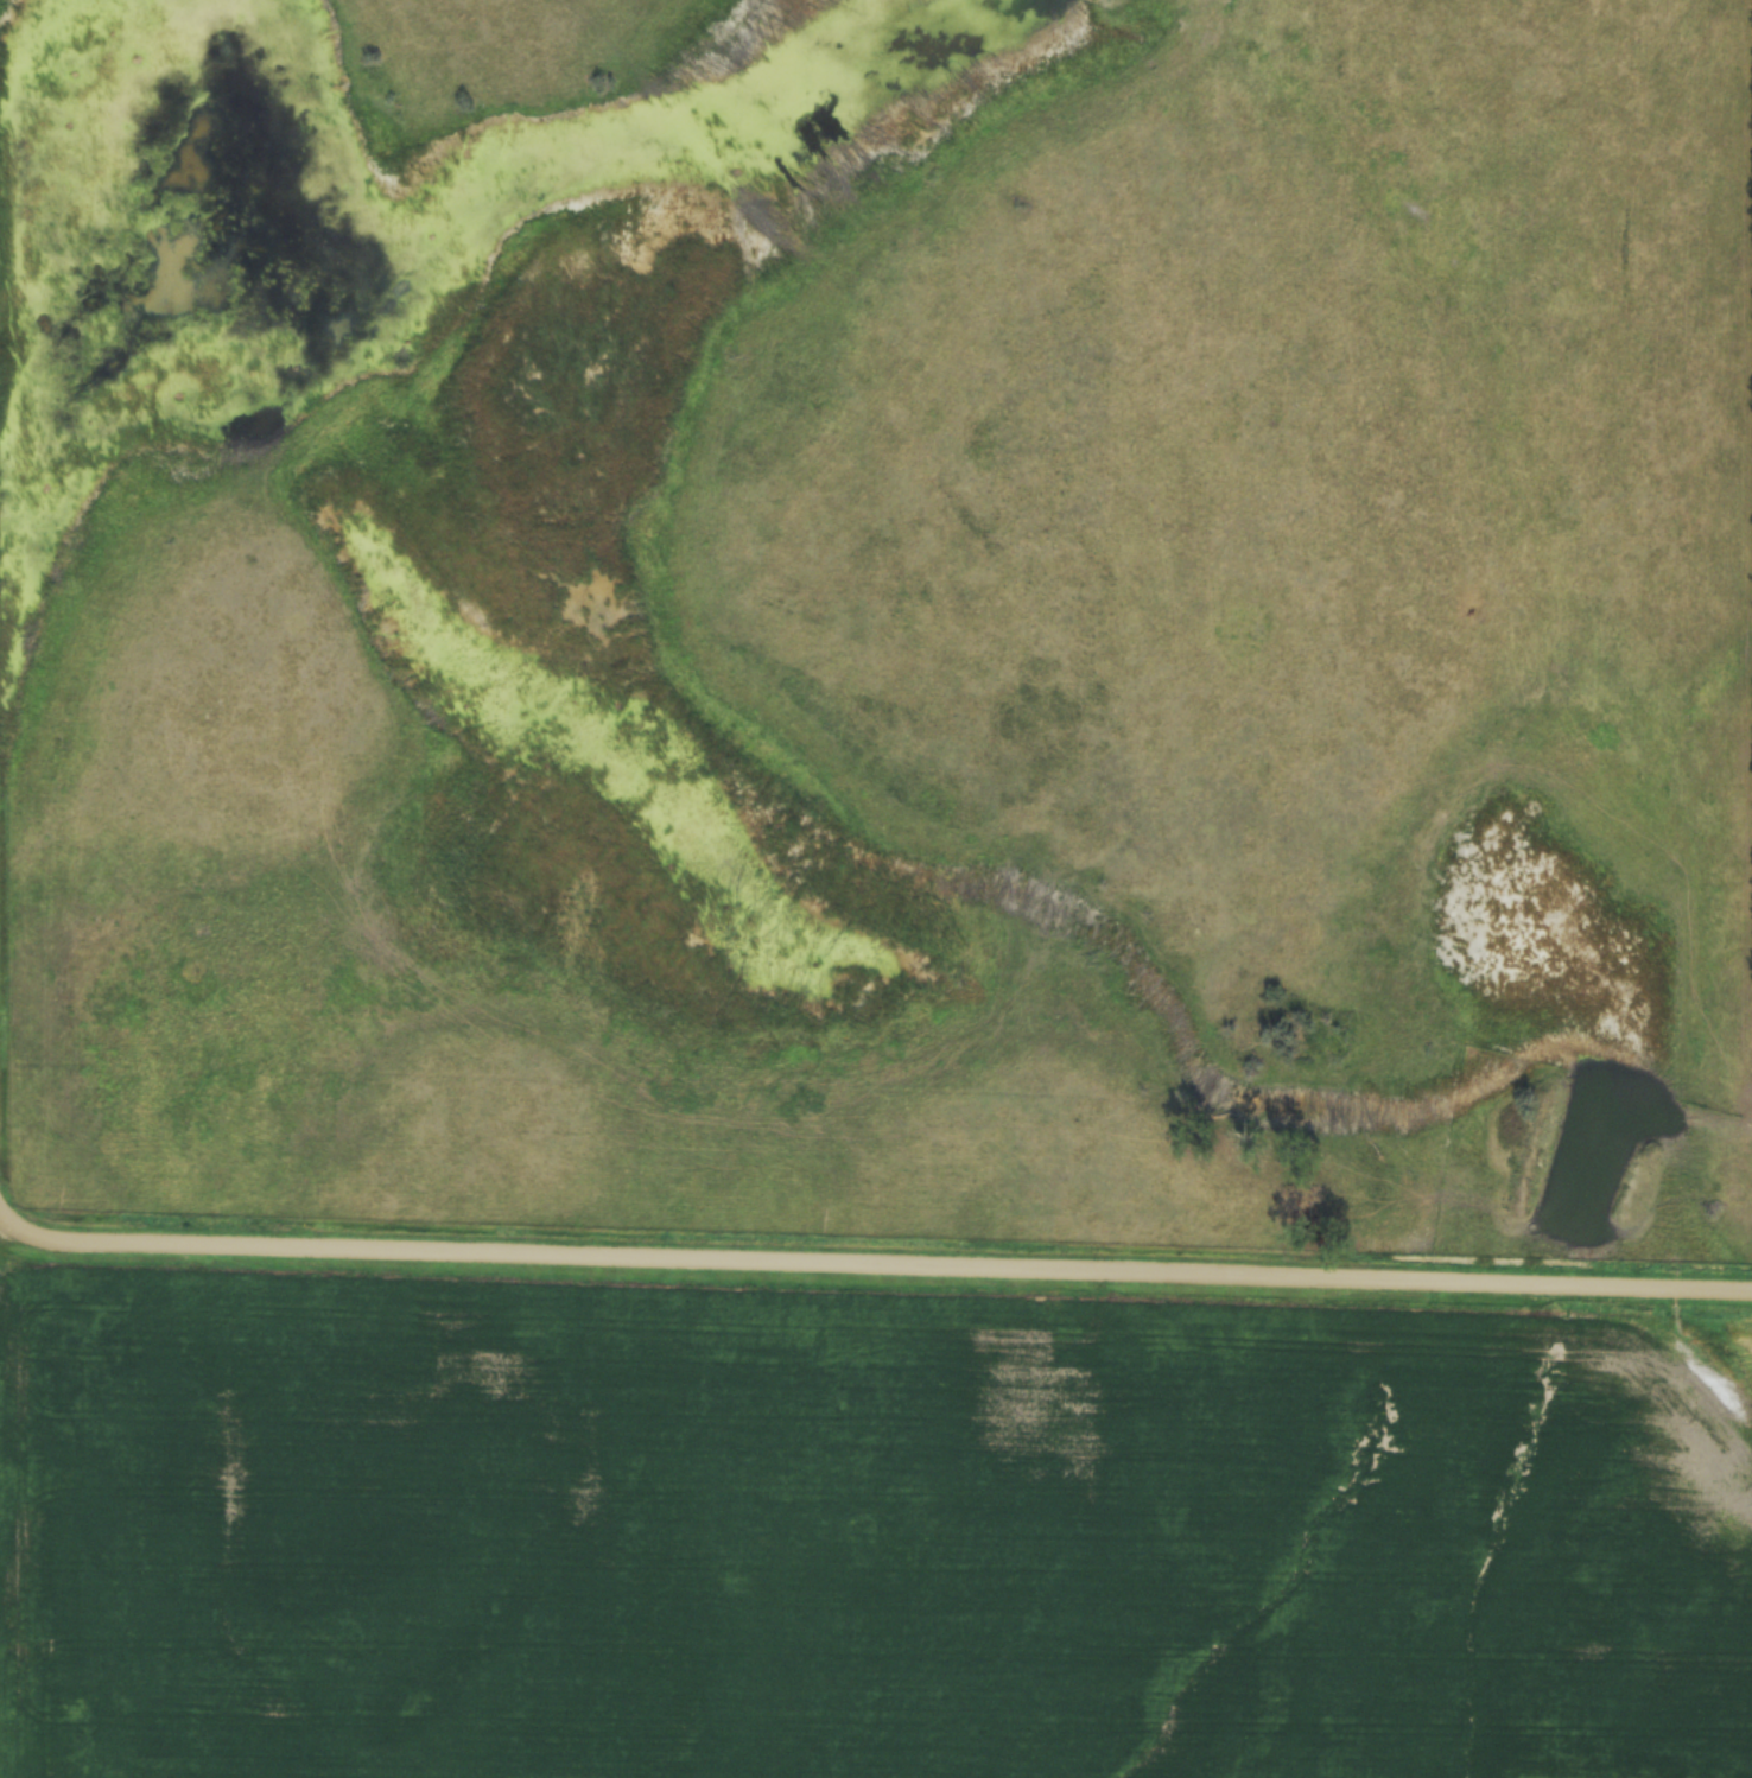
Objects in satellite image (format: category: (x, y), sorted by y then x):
road: (876, 1261)

